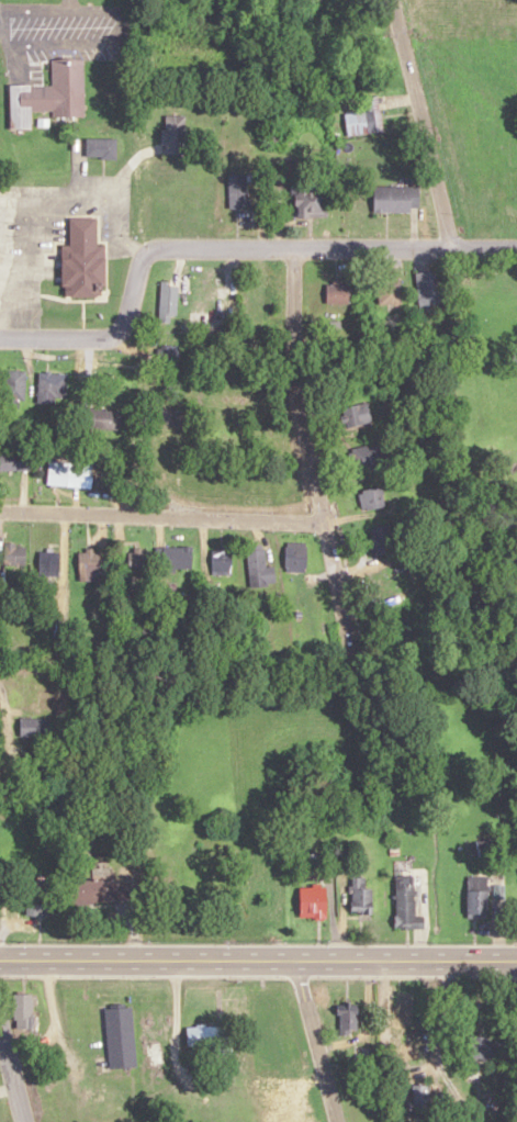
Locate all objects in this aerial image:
building: (49, 94)
building: (364, 117)
road: (423, 124)
building: (172, 134)
building: (101, 147)
building: (237, 190)
road: (89, 199)
building: (396, 199)
building: (310, 201)
road: (119, 235)
road: (227, 248)
road: (33, 255)
building: (82, 260)
building: (204, 284)
building: (430, 288)
building: (389, 290)
building: (337, 292)
building: (168, 301)
building: (168, 354)
building: (50, 386)
building: (12, 388)
building: (356, 414)
building: (103, 418)
road: (310, 457)
building: (369, 457)
building: (14, 461)
building: (57, 473)
building: (371, 498)
road: (161, 516)
building: (383, 540)
building: (13, 554)
building: (295, 556)
building: (177, 558)
building: (222, 560)
building: (48, 563)
building: (137, 563)
building: (89, 564)
building: (259, 568)
building: (392, 579)
building: (405, 615)
road: (2, 676)
building: (31, 688)
building: (34, 727)
building: (484, 848)
building: (98, 891)
building: (360, 896)
building: (476, 896)
building: (40, 898)
building: (313, 901)
building: (406, 904)
road: (258, 958)
building: (23, 1011)
building: (348, 1018)
building: (407, 1032)
building: (265, 1034)
building: (209, 1035)
building: (121, 1037)
road: (315, 1041)
building: (486, 1048)
building: (156, 1059)
road: (12, 1068)
building: (420, 1098)

